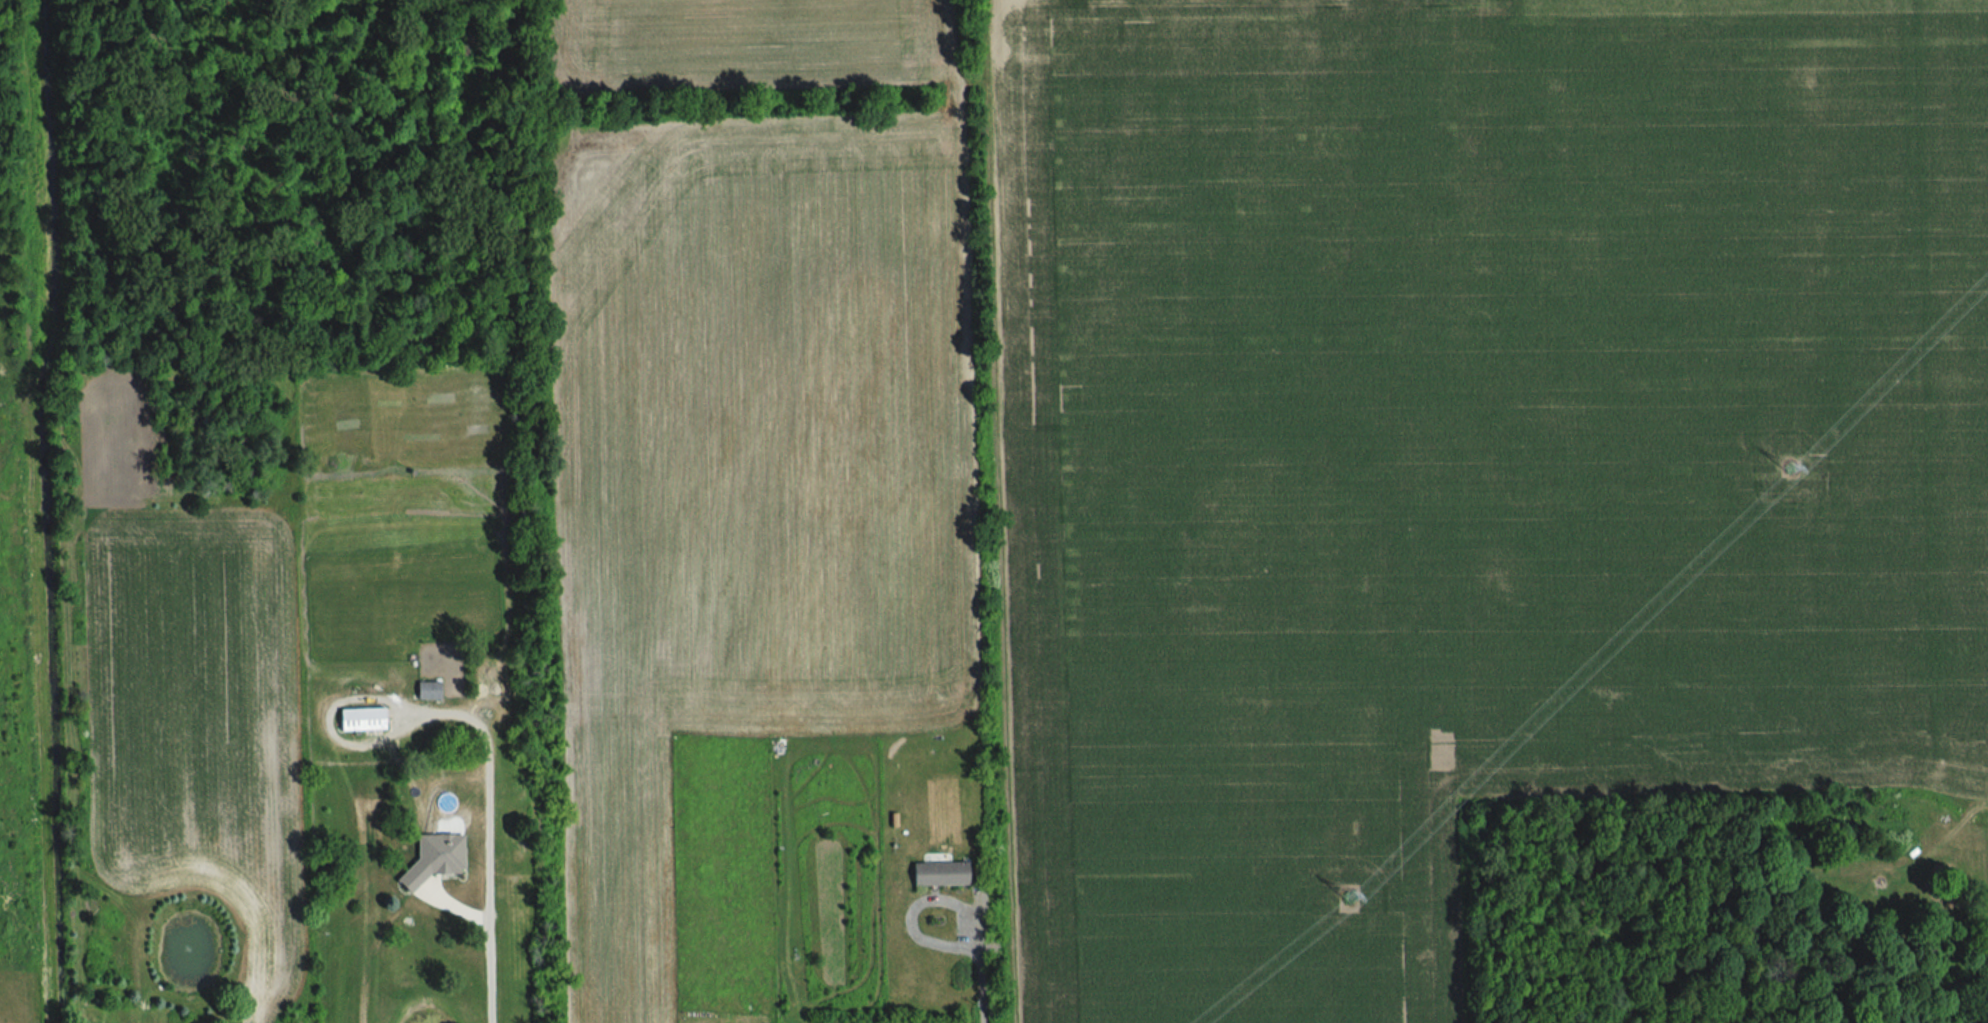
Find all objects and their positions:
crop: (749, 42)
crop: (1466, 454)
power tower: (1792, 471)
crop: (746, 475)
crop: (191, 691)
building: (425, 691)
building: (359, 721)
road: (477, 826)
building: (936, 875)
power tower: (1350, 894)
road: (918, 907)
road: (360, 974)
road: (981, 990)

